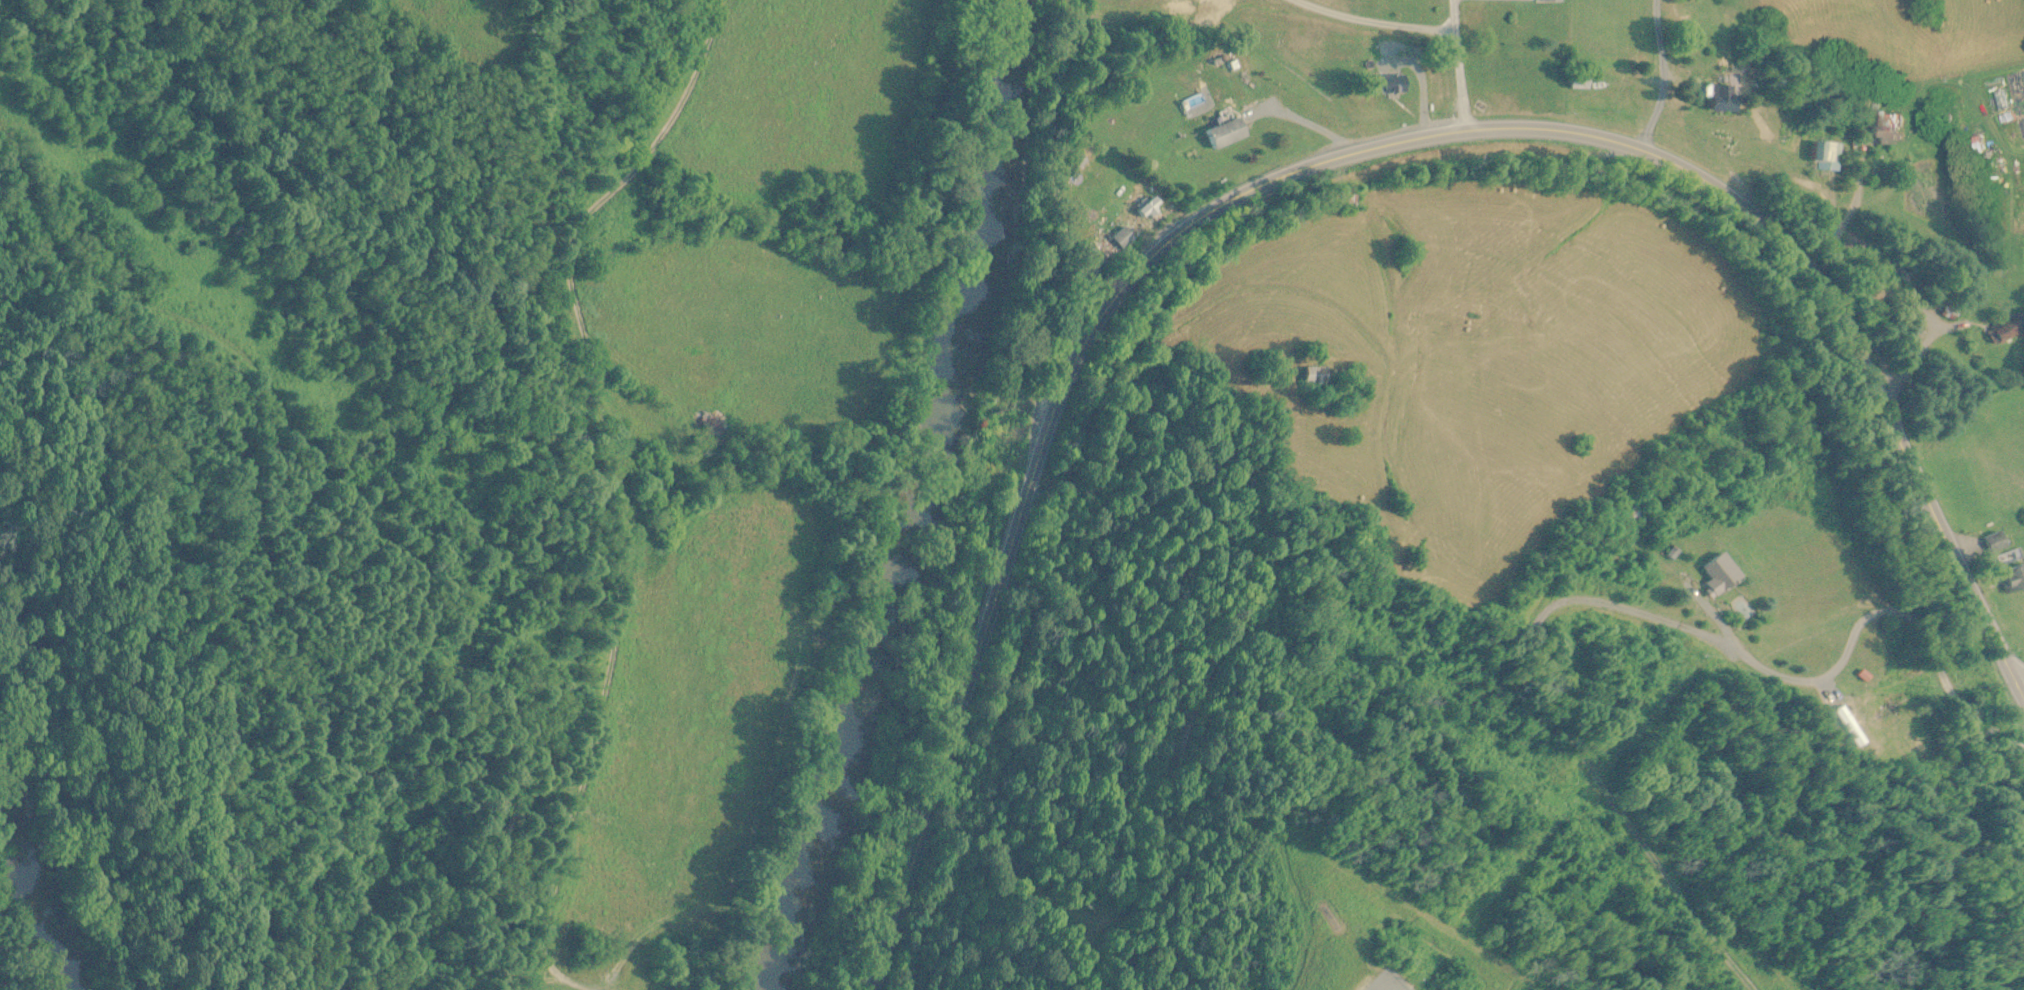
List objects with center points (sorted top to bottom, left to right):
road: (1376, 22)
road: (1459, 64)
road: (1662, 78)
road: (1308, 128)
road: (1331, 161)
road: (611, 250)
river: (921, 501)
road: (1812, 678)
river: (41, 893)

